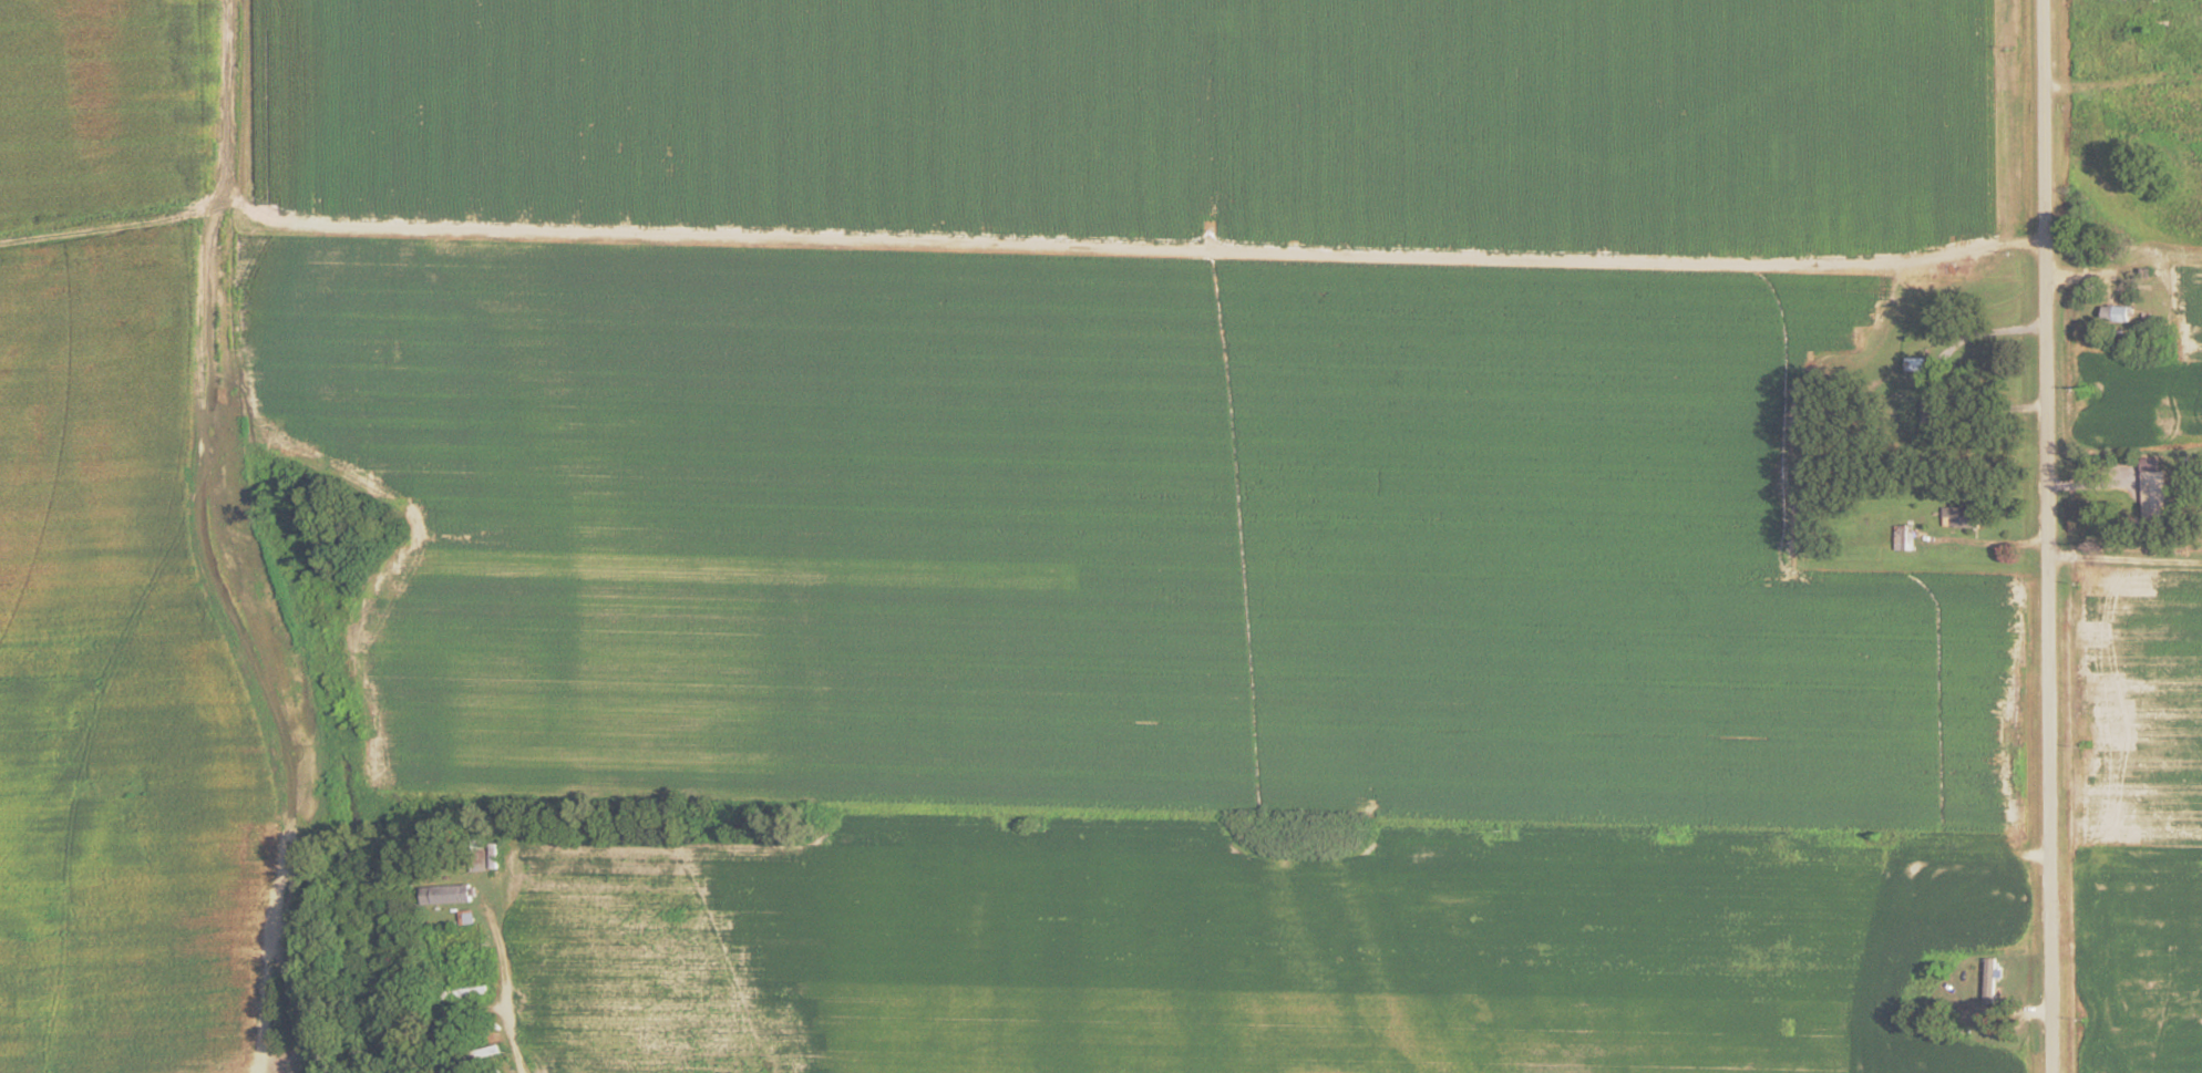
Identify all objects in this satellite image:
building: (2122, 39)
building: (2112, 317)
road: (2048, 536)
building: (1902, 540)
road: (2126, 559)
building: (474, 864)
building: (442, 897)
road: (525, 951)

